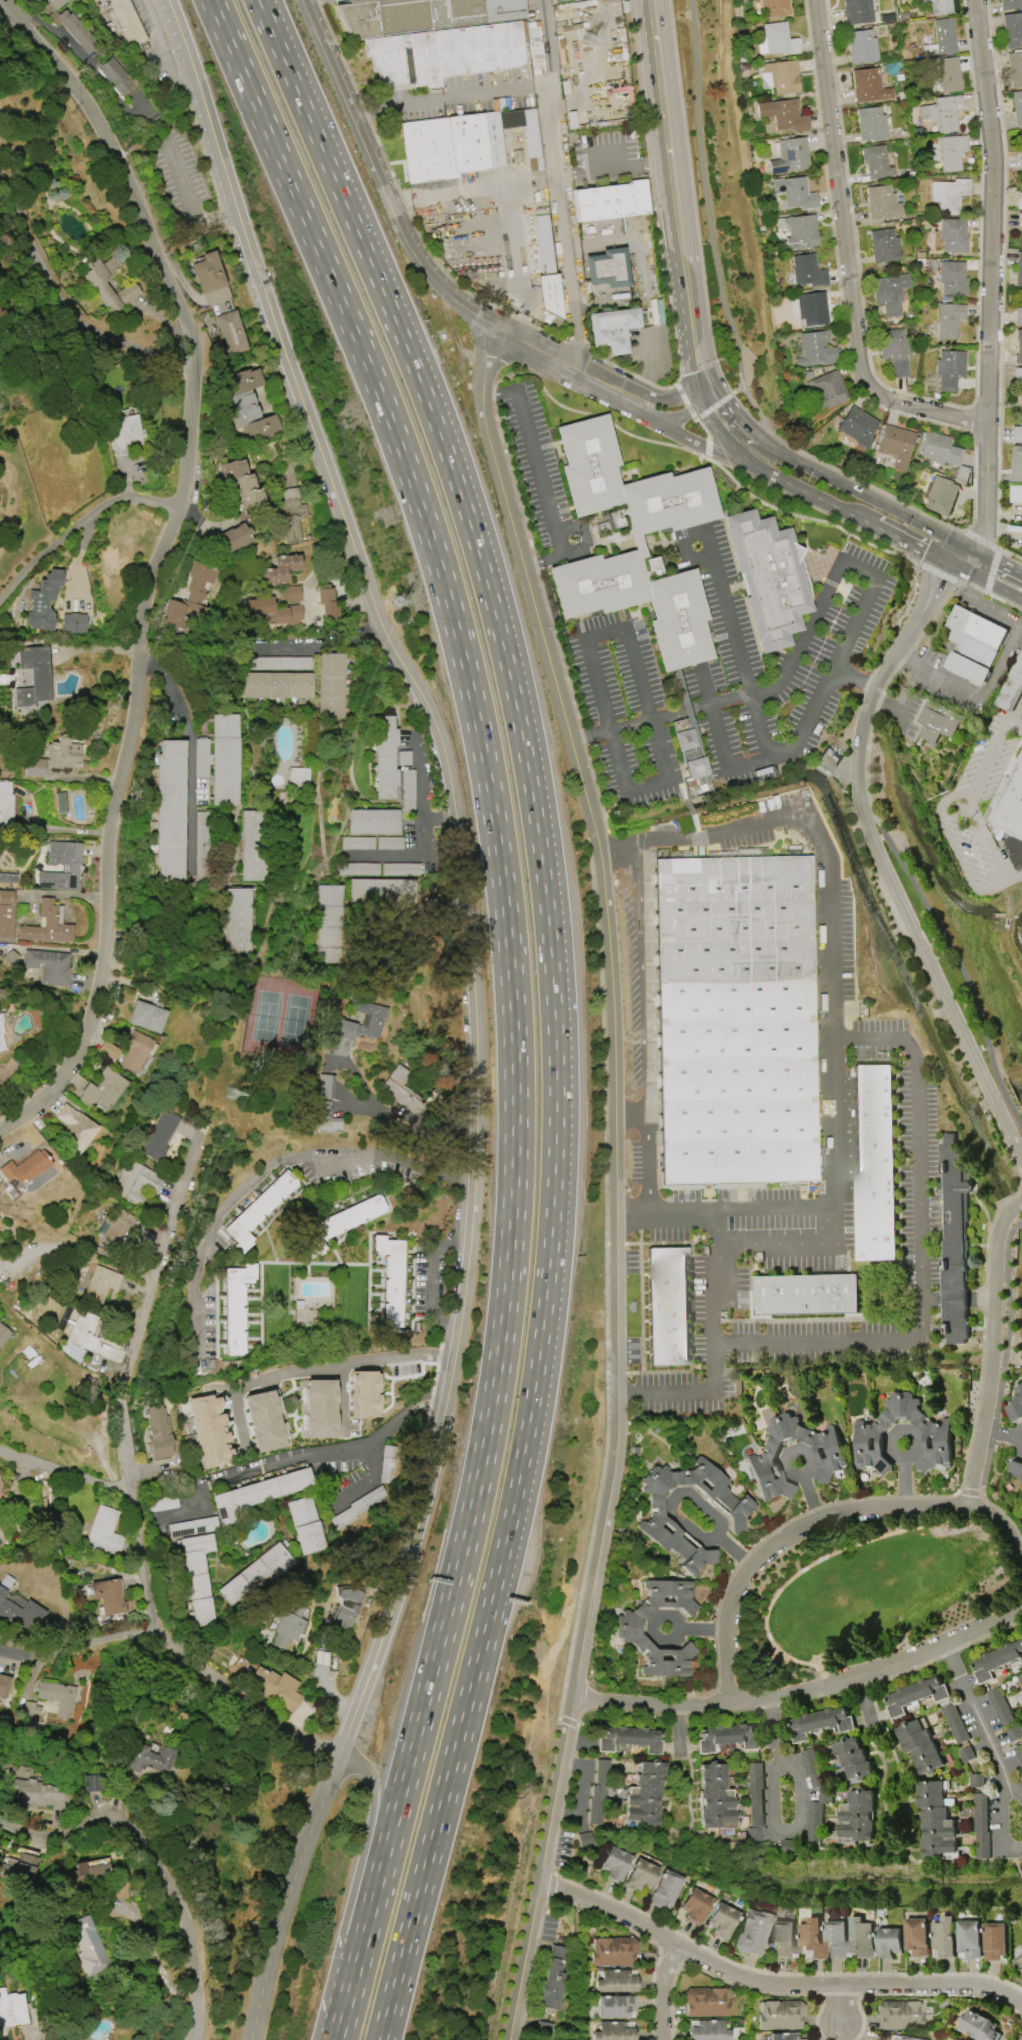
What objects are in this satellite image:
building: (554, 0)
building: (750, 0)
road: (626, 2)
building: (55, 3)
building: (1009, 4)
building: (776, 7)
building: (939, 7)
building: (866, 13)
road: (598, 14)
building: (421, 15)
building: (123, 21)
building: (74, 30)
building: (1012, 30)
building: (945, 36)
power tower: (587, 38)
building: (777, 40)
road: (164, 45)
building: (862, 46)
building: (449, 51)
building: (1015, 68)
building: (949, 75)
building: (114, 77)
building: (781, 77)
building: (869, 85)
road: (447, 95)
building: (1017, 107)
road: (663, 108)
building: (943, 113)
building: (784, 115)
building: (871, 124)
building: (464, 144)
building: (952, 151)
building: (791, 156)
building: (1020, 160)
building: (877, 162)
road: (595, 165)
road: (377, 179)
road: (558, 182)
road: (472, 189)
road: (705, 193)
building: (796, 193)
building: (949, 194)
road: (187, 198)
building: (611, 201)
building: (1019, 201)
building: (882, 203)
building: (1020, 220)
building: (801, 230)
building: (953, 235)
building: (884, 246)
road: (846, 258)
road: (519, 261)
building: (606, 268)
building: (1019, 269)
building: (547, 271)
building: (808, 271)
building: (208, 273)
building: (952, 278)
road: (980, 278)
building: (105, 279)
road: (61, 290)
building: (890, 293)
road: (689, 302)
building: (813, 308)
building: (1018, 316)
building: (949, 320)
building: (613, 329)
building: (232, 333)
building: (1018, 346)
building: (817, 348)
building: (894, 351)
road: (565, 364)
road: (651, 364)
building: (949, 369)
building: (1018, 385)
traffic signals: (706, 387)
road: (737, 389)
building: (828, 390)
road: (671, 397)
road: (713, 406)
building: (247, 407)
road: (639, 407)
road: (689, 408)
road: (680, 414)
road: (759, 414)
road: (736, 419)
building: (858, 428)
road: (703, 429)
road: (718, 429)
building: (1018, 431)
building: (124, 433)
road: (707, 443)
road: (703, 445)
building: (896, 446)
building: (940, 449)
road: (533, 453)
building: (1016, 463)
building: (961, 474)
building: (243, 483)
building: (629, 484)
building: (1016, 493)
building: (943, 495)
road: (867, 496)
building: (290, 512)
road: (849, 514)
road: (583, 532)
road: (83, 536)
building: (233, 538)
traffic signals: (964, 545)
road: (977, 551)
road: (956, 554)
road: (158, 556)
road: (543, 560)
traffic signals: (948, 564)
road: (1006, 566)
road: (984, 568)
building: (282, 570)
road: (963, 571)
road: (833, 572)
building: (768, 577)
road: (719, 583)
road: (1000, 589)
building: (291, 593)
building: (191, 599)
building: (326, 599)
building: (43, 600)
power tower: (396, 601)
building: (639, 601)
building: (275, 611)
building: (73, 623)
building: (972, 643)
road: (312, 646)
building: (284, 663)
road: (992, 672)
building: (34, 676)
road: (637, 676)
building: (276, 685)
building: (331, 686)
building: (1012, 686)
road: (894, 706)
road: (753, 707)
road: (895, 717)
building: (934, 718)
road: (1016, 719)
road: (628, 721)
building: (63, 754)
road: (193, 754)
building: (691, 755)
road: (775, 755)
building: (385, 757)
building: (201, 758)
building: (224, 760)
building: (827, 761)
building: (35, 767)
building: (297, 777)
road: (420, 788)
building: (407, 791)
road: (968, 791)
building: (5, 803)
building: (1009, 803)
building: (171, 811)
building: (372, 821)
road: (51, 829)
road: (820, 840)
road: (956, 842)
building: (358, 843)
building: (389, 843)
building: (253, 845)
road: (618, 849)
road: (403, 852)
road: (881, 864)
building: (62, 867)
building: (401, 869)
building: (7, 878)
building: (382, 891)
building: (6, 913)
building: (239, 921)
building: (48, 924)
building: (329, 924)
building: (12, 957)
building: (49, 966)
road: (639, 980)
road: (515, 1004)
road: (552, 1004)
road: (612, 1004)
road: (474, 1009)
building: (147, 1016)
building: (735, 1019)
building: (337, 1022)
building: (1, 1034)
building: (108, 1051)
building: (136, 1053)
building: (324, 1086)
building: (102, 1090)
building: (400, 1091)
road: (912, 1094)
power tower: (237, 1095)
road: (627, 1117)
building: (326, 1118)
road: (408, 1123)
building: (74, 1127)
building: (159, 1136)
building: (874, 1162)
road: (644, 1163)
building: (24, 1167)
road: (270, 1175)
building: (143, 1181)
building: (257, 1210)
road: (726, 1210)
road: (170, 1214)
building: (339, 1223)
building: (954, 1238)
road: (433, 1277)
building: (390, 1278)
building: (100, 1283)
building: (806, 1294)
building: (667, 1306)
building: (235, 1307)
building: (83, 1329)
building: (3, 1334)
road: (712, 1342)
building: (72, 1350)
road: (990, 1350)
road: (345, 1366)
building: (363, 1393)
building: (1016, 1405)
building: (317, 1409)
building: (263, 1421)
building: (209, 1430)
building: (157, 1432)
building: (936, 1444)
road: (304, 1454)
building: (832, 1456)
building: (388, 1464)
building: (1015, 1468)
road: (65, 1474)
road: (367, 1480)
road: (128, 1485)
building: (258, 1493)
building: (358, 1507)
building: (655, 1517)
road: (820, 1518)
building: (306, 1525)
building: (193, 1527)
building: (103, 1532)
building: (256, 1573)
building: (197, 1577)
building: (108, 1596)
building: (18, 1612)
building: (338, 1620)
building: (289, 1626)
building: (626, 1627)
road: (84, 1634)
building: (996, 1659)
building: (1020, 1678)
building: (4, 1685)
building: (277, 1688)
road: (803, 1690)
building: (915, 1694)
building: (57, 1697)
building: (999, 1706)
road: (973, 1708)
building: (30, 1709)
building: (820, 1722)
building: (955, 1723)
road: (772, 1727)
building: (1014, 1732)
building: (728, 1737)
building: (628, 1738)
building: (920, 1746)
building: (966, 1753)
building: (1018, 1753)
building: (852, 1757)
building: (149, 1758)
building: (812, 1767)
building: (92, 1783)
road: (798, 1789)
building: (598, 1791)
building: (643, 1794)
building: (825, 1794)
building: (40, 1795)
building: (714, 1797)
road: (773, 1797)
building: (755, 1800)
road: (1000, 1803)
building: (857, 1815)
building: (980, 1817)
building: (936, 1819)
building: (815, 1820)
building: (583, 1839)
building: (613, 1864)
building: (20, 1867)
road: (160, 1867)
road: (540, 1868)
building: (88, 1872)
building: (639, 1874)
road: (355, 1888)
building: (663, 1889)
building: (693, 1905)
building: (720, 1920)
building: (750, 1932)
building: (918, 1935)
building: (945, 1936)
building: (862, 1937)
building: (784, 1938)
building: (812, 1938)
building: (970, 1938)
building: (836, 1939)
building: (995, 1940)
building: (889, 1942)
building: (90, 1946)
building: (613, 1951)
building: (1021, 1951)
building: (1018, 1961)
building: (552, 1979)
building: (614, 1981)
road: (769, 1987)
road: (665, 1992)
building: (705, 2001)
road: (839, 2004)
building: (614, 2006)
building: (13, 2009)
building: (779, 2014)
building: (899, 2015)
building: (978, 2025)
building: (542, 2028)
building: (613, 2031)
building: (707, 2031)
building: (782, 2036)
building: (904, 2038)

